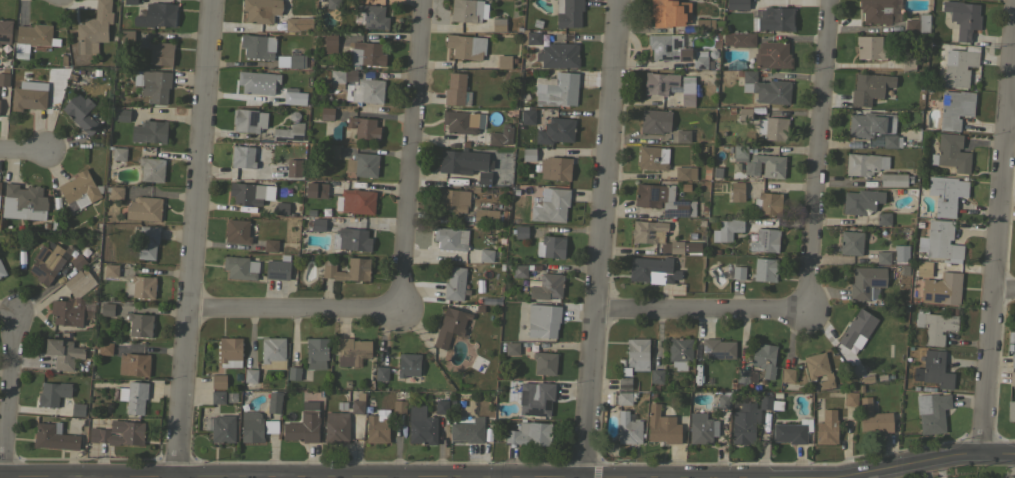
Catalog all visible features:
building: (129, 2)
building: (333, 4)
building: (737, 4)
building: (467, 10)
building: (879, 11)
building: (568, 13)
building: (669, 13)
rooftop solar panel: (366, 14)
building: (156, 15)
building: (272, 16)
building: (373, 16)
building: (963, 18)
building: (774, 19)
building: (918, 23)
building: (498, 24)
building: (706, 25)
building: (94, 28)
rooftop solar panel: (374, 29)
building: (5, 30)
building: (33, 37)
building: (530, 37)
building: (126, 39)
building: (739, 39)
building: (330, 42)
rooftop solar panel: (676, 42)
building: (258, 46)
building: (466, 46)
building: (667, 47)
building: (870, 47)
rooftop solar panel: (655, 50)
building: (160, 52)
building: (366, 53)
building: (558, 55)
building: (772, 55)
rooftop solar panel: (666, 58)
building: (701, 59)
building: (291, 61)
building: (503, 61)
building: (735, 64)
building: (961, 67)
building: (25, 74)
building: (341, 78)
building: (4, 79)
building: (257, 82)
building: (659, 83)
rooftop solar panel: (670, 83)
building: (153, 84)
rooftop solar panel: (648, 86)
rooftop solar panel: (659, 87)
building: (766, 88)
building: (869, 88)
building: (455, 89)
building: (558, 90)
building: (365, 91)
building: (29, 95)
building: (687, 95)
building: (291, 97)
road: (836, 100)
building: (955, 108)
building: (80, 113)
building: (326, 113)
building: (744, 114)
building: (122, 115)
rooftop solar panel: (250, 115)
building: (527, 115)
building: (248, 120)
building: (463, 121)
building: (655, 121)
building: (869, 124)
building: (363, 127)
building: (772, 128)
road: (1012, 128)
building: (289, 129)
building: (149, 131)
building: (336, 131)
building: (556, 131)
building: (501, 135)
building: (683, 136)
building: (891, 141)
building: (332, 150)
building: (740, 151)
road: (21, 152)
building: (951, 152)
building: (118, 153)
building: (528, 154)
building: (246, 156)
road: (410, 157)
building: (653, 157)
road: (823, 157)
building: (456, 161)
building: (864, 163)
building: (362, 164)
building: (765, 165)
building: (555, 167)
building: (151, 169)
building: (716, 170)
building: (275, 171)
building: (685, 172)
building: (484, 177)
building: (894, 179)
building: (79, 189)
building: (316, 190)
building: (736, 191)
building: (114, 192)
building: (247, 193)
rooftop solar panel: (652, 194)
building: (946, 194)
building: (452, 199)
building: (662, 199)
building: (357, 201)
building: (861, 201)
building: (23, 202)
rooftop solar panel: (679, 202)
building: (766, 202)
building: (552, 206)
building: (144, 208)
building: (281, 208)
rooftop solar panel: (674, 213)
building: (489, 215)
building: (883, 218)
building: (316, 223)
building: (727, 229)
building: (237, 231)
building: (520, 231)
building: (648, 231)
rooftop solar panel: (761, 233)
road: (194, 237)
building: (451, 238)
road: (601, 238)
building: (351, 239)
building: (767, 239)
building: (942, 241)
building: (147, 242)
building: (851, 242)
building: (270, 245)
building: (550, 246)
building: (676, 246)
road: (997, 249)
building: (900, 252)
building: (486, 255)
building: (883, 257)
building: (77, 261)
building: (47, 262)
building: (358, 264)
building: (240, 267)
building: (921, 268)
building: (277, 269)
building: (764, 269)
building: (2, 270)
building: (111, 270)
building: (520, 270)
building: (653, 270)
building: (738, 272)
building: (866, 281)
rooftop solar panel: (877, 281)
building: (79, 282)
building: (454, 283)
building: (140, 286)
building: (547, 286)
rooftop solar panel: (865, 288)
building: (941, 289)
road: (1004, 291)
building: (107, 309)
road: (293, 310)
building: (67, 311)
road: (703, 313)
building: (542, 320)
building: (140, 324)
building: (935, 325)
building: (450, 326)
building: (857, 329)
building: (1011, 334)
building: (105, 348)
building: (512, 348)
building: (717, 348)
building: (229, 351)
building: (352, 351)
building: (679, 352)
building: (63, 353)
building: (273, 353)
building: (316, 353)
building: (637, 353)
building: (764, 358)
building: (1012, 360)
building: (544, 362)
building: (134, 364)
building: (408, 366)
building: (818, 369)
building: (934, 369)
building: (294, 373)
building: (381, 373)
building: (787, 375)
building: (250, 376)
building: (746, 376)
building: (656, 378)
building: (1012, 378)
building: (867, 379)
building: (218, 381)
building: (624, 383)
building: (53, 393)
road: (7, 396)
building: (136, 397)
building: (218, 397)
building: (537, 397)
building: (624, 398)
building: (850, 398)
building: (724, 401)
building: (274, 402)
building: (358, 403)
building: (441, 406)
building: (399, 407)
building: (78, 409)
building: (1010, 410)
building: (932, 412)
building: (751, 417)
building: (873, 417)
building: (304, 424)
building: (251, 426)
building: (271, 426)
building: (421, 426)
building: (662, 426)
building: (336, 427)
building: (827, 427)
building: (222, 428)
building: (377, 428)
building: (702, 428)
building: (628, 429)
building: (468, 431)
building: (792, 431)
building: (119, 433)
building: (529, 433)
building: (54, 437)
road: (862, 471)
road: (306, 474)
road: (401, 475)

